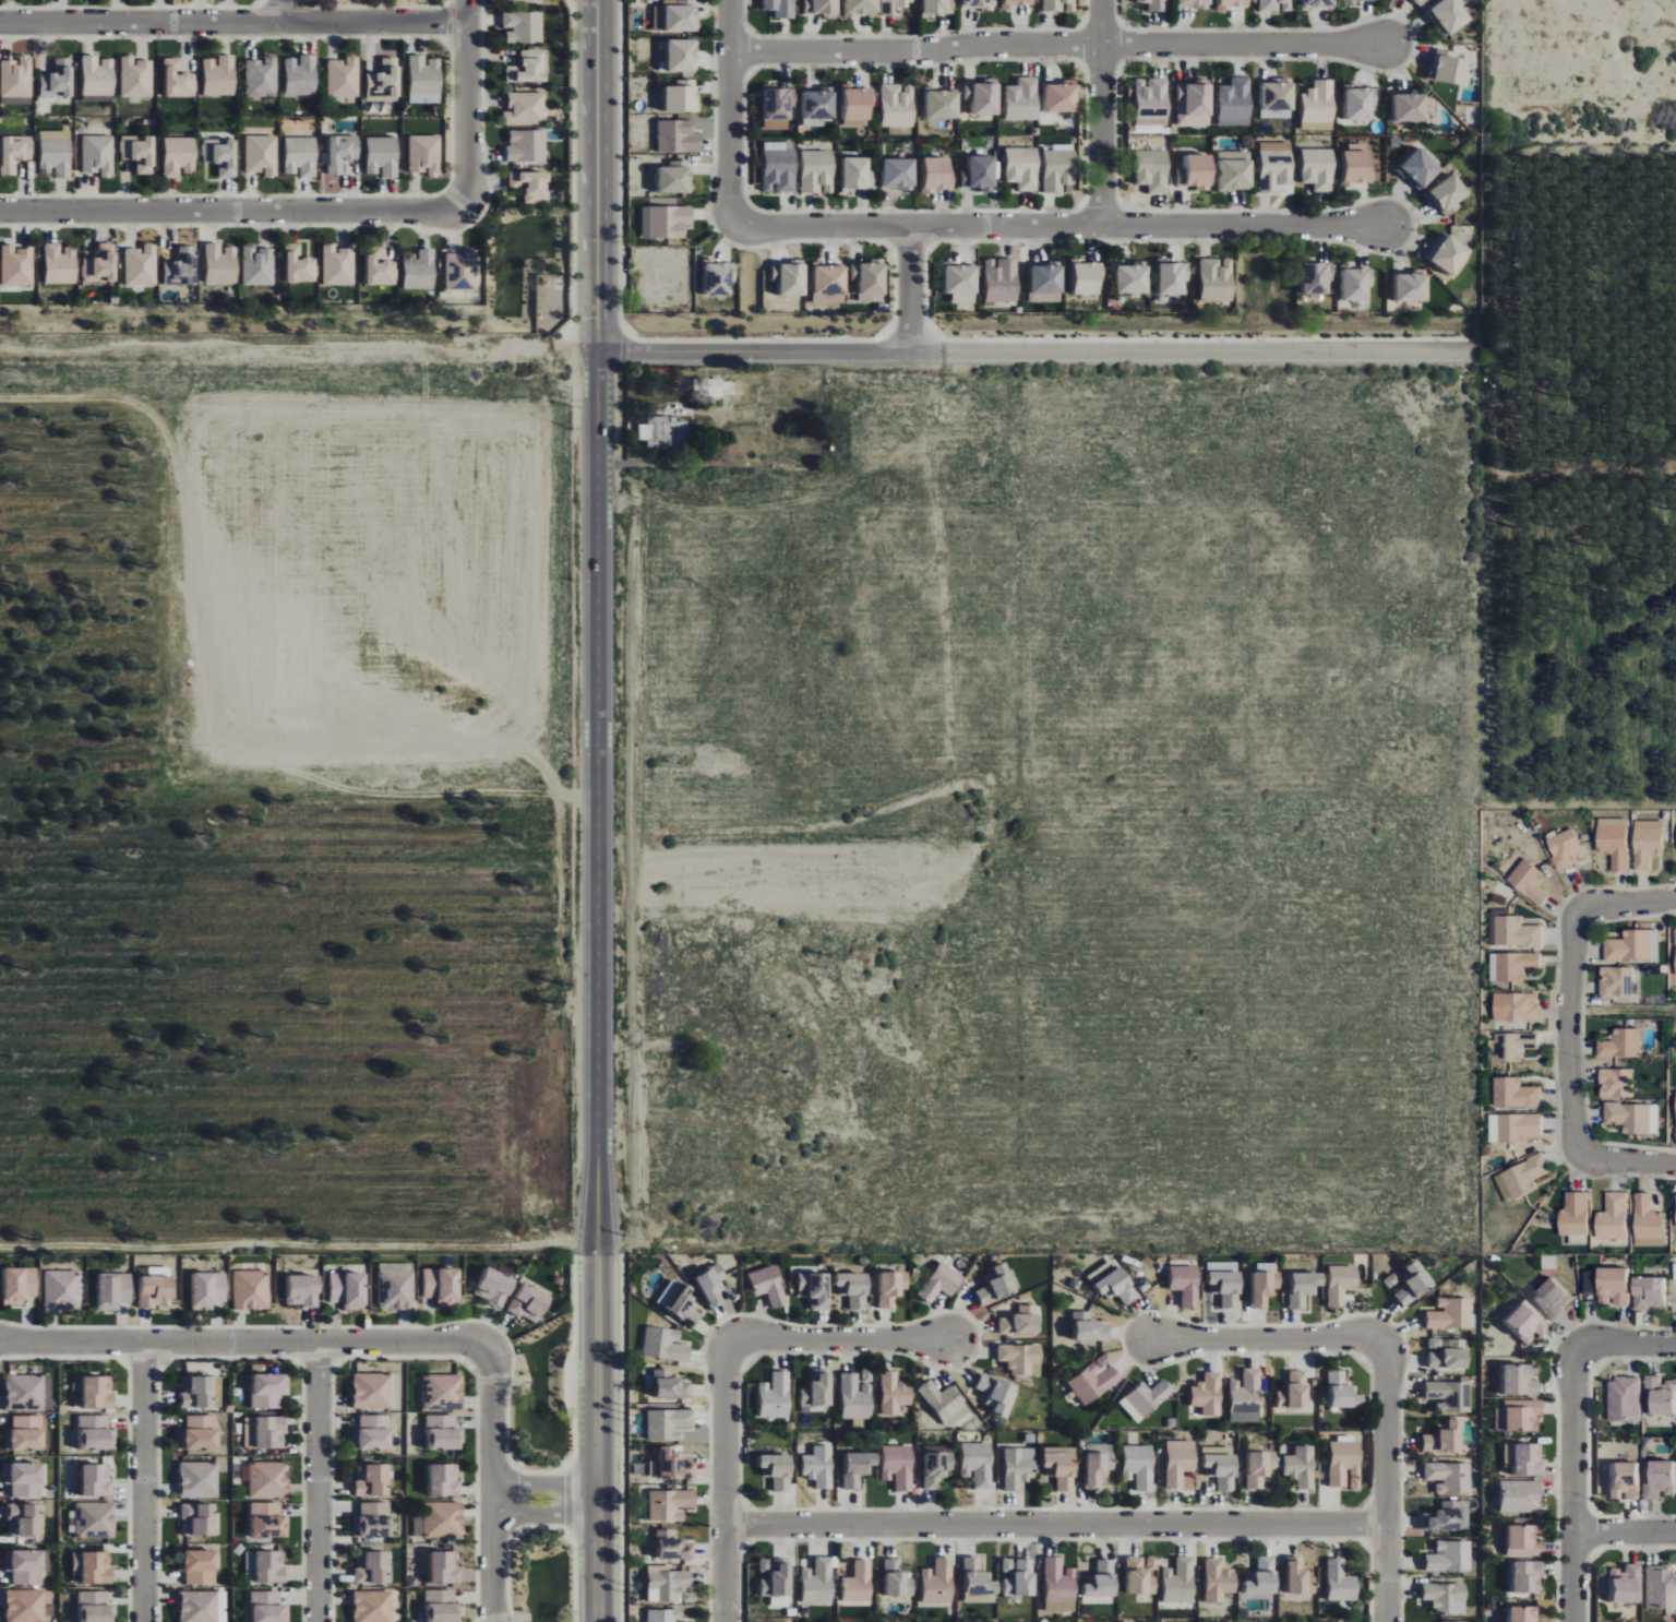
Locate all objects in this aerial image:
building: (542, 0)
building: (1362, 0)
building: (1418, 1)
building: (1018, 2)
building: (1195, 3)
building: (1231, 3)
building: (1318, 3)
building: (980, 4)
building: (1056, 4)
building: (1157, 4)
building: (895, 5)
building: (1276, 5)
building: (821, 7)
building: (862, 7)
building: (937, 7)
building: (781, 8)
road: (280, 11)
building: (1450, 14)
building: (677, 15)
road: (234, 23)
building: (524, 26)
road: (1058, 45)
building: (682, 55)
building: (530, 67)
building: (1449, 68)
building: (98, 75)
building: (219, 75)
building: (301, 75)
building: (262, 76)
building: (16, 77)
building: (136, 77)
building: (343, 77)
building: (58, 80)
building: (178, 80)
building: (424, 80)
building: (384, 82)
building: (682, 96)
building: (983, 97)
building: (1061, 97)
building: (1022, 99)
building: (1277, 99)
building: (1151, 102)
building: (1319, 102)
building: (943, 103)
building: (1235, 103)
road: (467, 104)
building: (1194, 104)
building: (1361, 104)
building: (898, 105)
building: (818, 106)
building: (858, 106)
building: (1410, 107)
building: (525, 108)
road: (730, 111)
road: (1101, 112)
building: (678, 136)
building: (527, 146)
building: (15, 152)
building: (139, 152)
building: (342, 152)
building: (426, 154)
building: (98, 155)
building: (220, 155)
building: (261, 155)
building: (56, 156)
building: (179, 156)
building: (300, 156)
building: (383, 156)
building: (1357, 163)
building: (1276, 166)
building: (1022, 167)
building: (1318, 168)
building: (1058, 169)
building: (1420, 169)
building: (780, 170)
building: (1153, 170)
building: (1236, 170)
building: (817, 171)
building: (1197, 171)
building: (980, 172)
building: (858, 174)
building: (899, 174)
building: (937, 174)
building: (675, 178)
building: (531, 186)
building: (1447, 195)
road: (231, 212)
building: (667, 222)
road: (1060, 226)
building: (1449, 253)
building: (60, 264)
building: (222, 264)
building: (17, 265)
building: (100, 265)
building: (141, 265)
building: (259, 265)
building: (299, 265)
building: (338, 265)
building: (182, 267)
building: (380, 269)
building: (420, 270)
building: (463, 272)
building: (719, 277)
building: (790, 277)
building: (1046, 277)
building: (1086, 277)
building: (1173, 277)
building: (1317, 277)
building: (1133, 278)
building: (1217, 278)
building: (869, 279)
building: (1002, 279)
building: (961, 283)
building: (829, 284)
building: (1356, 285)
building: (1412, 286)
road: (910, 288)
road: (774, 351)
road: (1213, 351)
building: (710, 389)
building: (662, 433)
road: (1485, 439)
road: (1587, 473)
road: (1497, 634)
road: (336, 787)
crop: (286, 810)
road: (596, 810)
building: (1615, 846)
building: (1648, 847)
building: (1567, 848)
building: (1530, 882)
road: (1626, 903)
building: (1517, 933)
building: (1629, 946)
building: (1516, 965)
building: (1675, 966)
building: (1618, 981)
building: (1521, 1007)
park: (1639, 1018)
road: (1567, 1030)
road: (1554, 1031)
road: (1580, 1031)
building: (1623, 1043)
building: (1515, 1046)
building: (1617, 1083)
building: (1516, 1094)
building: (1675, 1094)
building: (1630, 1117)
building: (1520, 1126)
road: (1626, 1161)
building: (1525, 1174)
building: (1675, 1212)
building: (1576, 1214)
building: (1613, 1216)
building: (1648, 1218)
road: (282, 1247)
road: (579, 1248)
building: (1114, 1281)
building: (16, 1283)
building: (941, 1283)
building: (1225, 1283)
building: (1265, 1283)
building: (1406, 1283)
building: (439, 1284)
building: (1186, 1284)
building: (1336, 1284)
building: (713, 1285)
building: (768, 1285)
building: (996, 1285)
building: (1611, 1285)
building: (492, 1287)
building: (205, 1288)
building: (300, 1288)
building: (344, 1288)
building: (891, 1288)
building: (110, 1289)
building: (151, 1289)
building: (815, 1289)
building: (854, 1289)
building: (1301, 1289)
building: (59, 1290)
building: (249, 1290)
building: (394, 1290)
building: (1647, 1292)
building: (1548, 1299)
building: (526, 1300)
building: (680, 1301)
building: (1447, 1314)
building: (1021, 1321)
building: (1522, 1322)
road: (322, 1327)
building: (1090, 1327)
road: (843, 1339)
road: (1259, 1339)
road: (243, 1343)
building: (666, 1344)
road: (1626, 1344)
building: (1444, 1352)
road: (230, 1357)
road: (402, 1358)
road: (567, 1358)
building: (1022, 1358)
road: (318, 1360)
road: (144, 1361)
building: (1094, 1379)
building: (1515, 1380)
building: (669, 1385)
building: (264, 1390)
building: (818, 1390)
building: (369, 1391)
building: (1295, 1391)
building: (1342, 1391)
building: (22, 1392)
building: (93, 1392)
building: (440, 1392)
building: (195, 1393)
building: (895, 1393)
building: (997, 1393)
building: (1208, 1394)
building: (775, 1395)
building: (858, 1396)
building: (1446, 1396)
building: (1659, 1396)
building: (1246, 1397)
building: (1146, 1398)
building: (1623, 1399)
building: (946, 1403)
building: (1515, 1415)
building: (669, 1423)
road: (130, 1428)
building: (265, 1431)
building: (24, 1432)
building: (197, 1432)
building: (371, 1432)
building: (439, 1432)
building: (92, 1433)
building: (1437, 1439)
building: (1520, 1459)
building: (1344, 1463)
building: (978, 1464)
building: (1181, 1464)
building: (673, 1465)
building: (937, 1465)
building: (819, 1466)
building: (898, 1466)
building: (1062, 1466)
building: (1139, 1466)
building: (1221, 1466)
building: (1301, 1466)
building: (858, 1467)
building: (1018, 1467)
building: (1259, 1467)
building: (1098, 1468)
road: (519, 1470)
building: (778, 1470)
road: (548, 1472)
building: (1446, 1477)
building: (23, 1479)
building: (1656, 1479)
building: (92, 1480)
building: (196, 1480)
building: (266, 1480)
building: (1619, 1480)
building: (370, 1481)
building: (439, 1481)
road: (144, 1482)
road: (318, 1482)
road: (726, 1482)
road: (1386, 1482)
road: (491, 1483)
road: (1573, 1484)
road: (544, 1486)
building: (1516, 1496)
road: (513, 1500)
road: (568, 1500)
building: (671, 1504)
road: (544, 1516)
building: (1445, 1516)
building: (196, 1518)
building: (24, 1519)
building: (372, 1519)
building: (93, 1520)
building: (263, 1520)
building: (441, 1520)
building: (418, 1525)
road: (1055, 1525)
road: (548, 1527)
road: (519, 1528)
road: (1625, 1534)
building: (1519, 1541)
building: (673, 1546)
building: (1446, 1557)
building: (22, 1566)
building: (196, 1566)
building: (265, 1567)
building: (92, 1569)
building: (369, 1569)
building: (440, 1569)
building: (1142, 1574)
road: (507, 1575)
road: (574, 1576)
building: (1018, 1576)
building: (1262, 1576)
building: (1297, 1576)
building: (1521, 1577)
building: (897, 1579)
building: (776, 1581)
building: (1180, 1581)
building: (1219, 1581)
building: (818, 1582)
building: (859, 1582)
building: (938, 1582)
building: (1340, 1582)
building: (979, 1583)
building: (1101, 1584)
building: (1619, 1584)
building: (668, 1585)
building: (1060, 1586)
building: (1657, 1587)
building: (1440, 1597)
building: (23, 1606)
building: (438, 1606)
building: (92, 1607)
building: (196, 1607)
building: (263, 1607)
building: (370, 1607)
building: (1516, 1614)
building: (666, 1615)
building: (1468, 1621)

